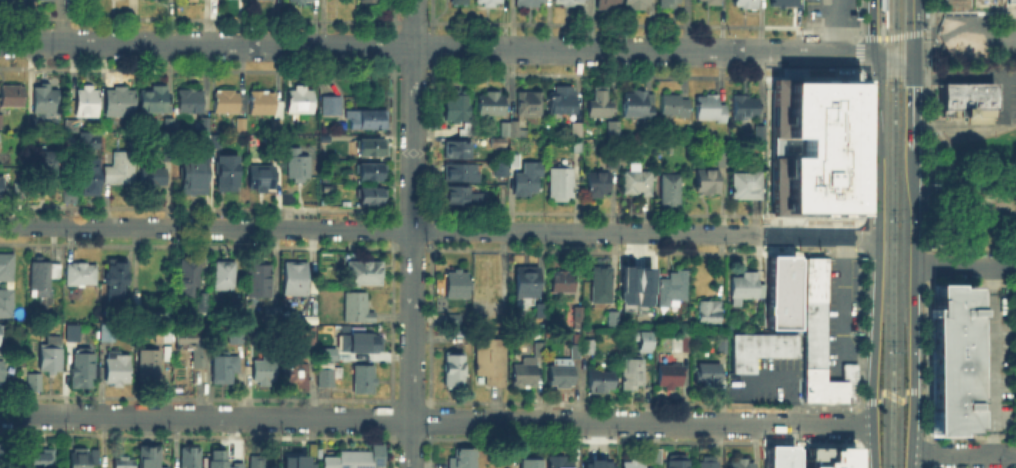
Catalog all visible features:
building: (193, 0)
building: (298, 0)
building: (369, 1)
building: (460, 1)
building: (301, 2)
building: (489, 2)
building: (569, 2)
building: (666, 2)
building: (712, 2)
building: (743, 2)
building: (782, 2)
building: (1011, 2)
building: (529, 3)
building: (606, 4)
building: (635, 4)
building: (974, 8)
road: (882, 17)
road: (871, 18)
railway: (881, 26)
road: (966, 26)
road: (836, 27)
road: (917, 27)
road: (894, 35)
road: (872, 45)
road: (436, 47)
traffic signals: (873, 55)
road: (894, 55)
traffic signals: (916, 55)
road: (965, 76)
building: (13, 97)
building: (301, 100)
building: (967, 100)
road: (1005, 100)
building: (46, 101)
building: (154, 101)
road: (913, 101)
building: (565, 102)
building: (88, 103)
building: (264, 103)
building: (601, 103)
building: (120, 104)
building: (191, 104)
building: (229, 104)
building: (492, 105)
building: (531, 105)
building: (333, 106)
building: (675, 106)
building: (640, 107)
building: (457, 108)
building: (745, 108)
building: (711, 110)
building: (369, 122)
building: (1, 123)
building: (206, 125)
building: (170, 126)
building: (242, 126)
building: (278, 126)
building: (105, 127)
building: (611, 127)
road: (975, 127)
building: (465, 131)
building: (579, 131)
building: (759, 131)
building: (507, 134)
building: (613, 134)
building: (85, 139)
building: (217, 142)
road: (879, 145)
building: (372, 148)
building: (813, 150)
building: (460, 151)
park: (973, 152)
building: (725, 158)
road: (964, 162)
building: (44, 164)
building: (298, 166)
building: (121, 170)
building: (370, 172)
building: (463, 173)
building: (87, 175)
building: (194, 175)
building: (229, 175)
building: (522, 177)
building: (154, 178)
building: (263, 179)
building: (639, 183)
building: (561, 184)
building: (708, 184)
building: (599, 186)
building: (748, 187)
building: (2, 188)
building: (672, 193)
building: (370, 195)
building: (464, 197)
building: (291, 200)
road: (914, 206)
road: (961, 213)
road: (439, 230)
road: (411, 233)
railway: (888, 233)
railway: (899, 234)
building: (5, 265)
road: (965, 265)
building: (364, 273)
building: (191, 275)
building: (82, 276)
building: (226, 277)
building: (44, 279)
building: (259, 279)
building: (118, 281)
building: (298, 281)
building: (527, 283)
building: (563, 283)
building: (633, 284)
building: (457, 285)
building: (602, 286)
building: (745, 287)
building: (674, 289)
building: (779, 291)
building: (5, 301)
building: (204, 302)
building: (488, 307)
building: (358, 309)
building: (540, 309)
road: (841, 311)
building: (710, 312)
building: (274, 314)
building: (576, 315)
building: (293, 318)
building: (614, 320)
building: (311, 322)
building: (108, 334)
building: (164, 337)
building: (308, 337)
building: (639, 338)
building: (240, 339)
building: (820, 339)
building: (1, 344)
building: (360, 344)
building: (681, 346)
building: (589, 347)
building: (724, 348)
building: (195, 349)
building: (540, 351)
road: (874, 351)
building: (577, 352)
building: (760, 354)
building: (51, 355)
building: (955, 360)
building: (491, 362)
road: (914, 366)
building: (150, 368)
building: (118, 369)
building: (226, 369)
building: (85, 370)
building: (327, 370)
building: (455, 371)
building: (2, 372)
building: (629, 372)
building: (266, 373)
building: (298, 374)
building: (526, 374)
building: (562, 376)
building: (671, 376)
building: (708, 376)
building: (32, 380)
building: (365, 380)
building: (600, 382)
road: (893, 396)
building: (1015, 413)
road: (436, 419)
building: (310, 447)
road: (963, 453)
building: (653, 454)
building: (778, 456)
building: (828, 457)
building: (150, 458)
building: (191, 458)
building: (85, 459)
building: (464, 459)
building: (43, 460)
building: (219, 460)
building: (351, 460)
building: (294, 461)
building: (264, 462)
building: (531, 462)
building: (559, 462)
building: (677, 462)
building: (20, 463)
building: (596, 463)
building: (708, 463)
building: (124, 464)
building: (233, 464)
building: (634, 464)
building: (742, 465)

